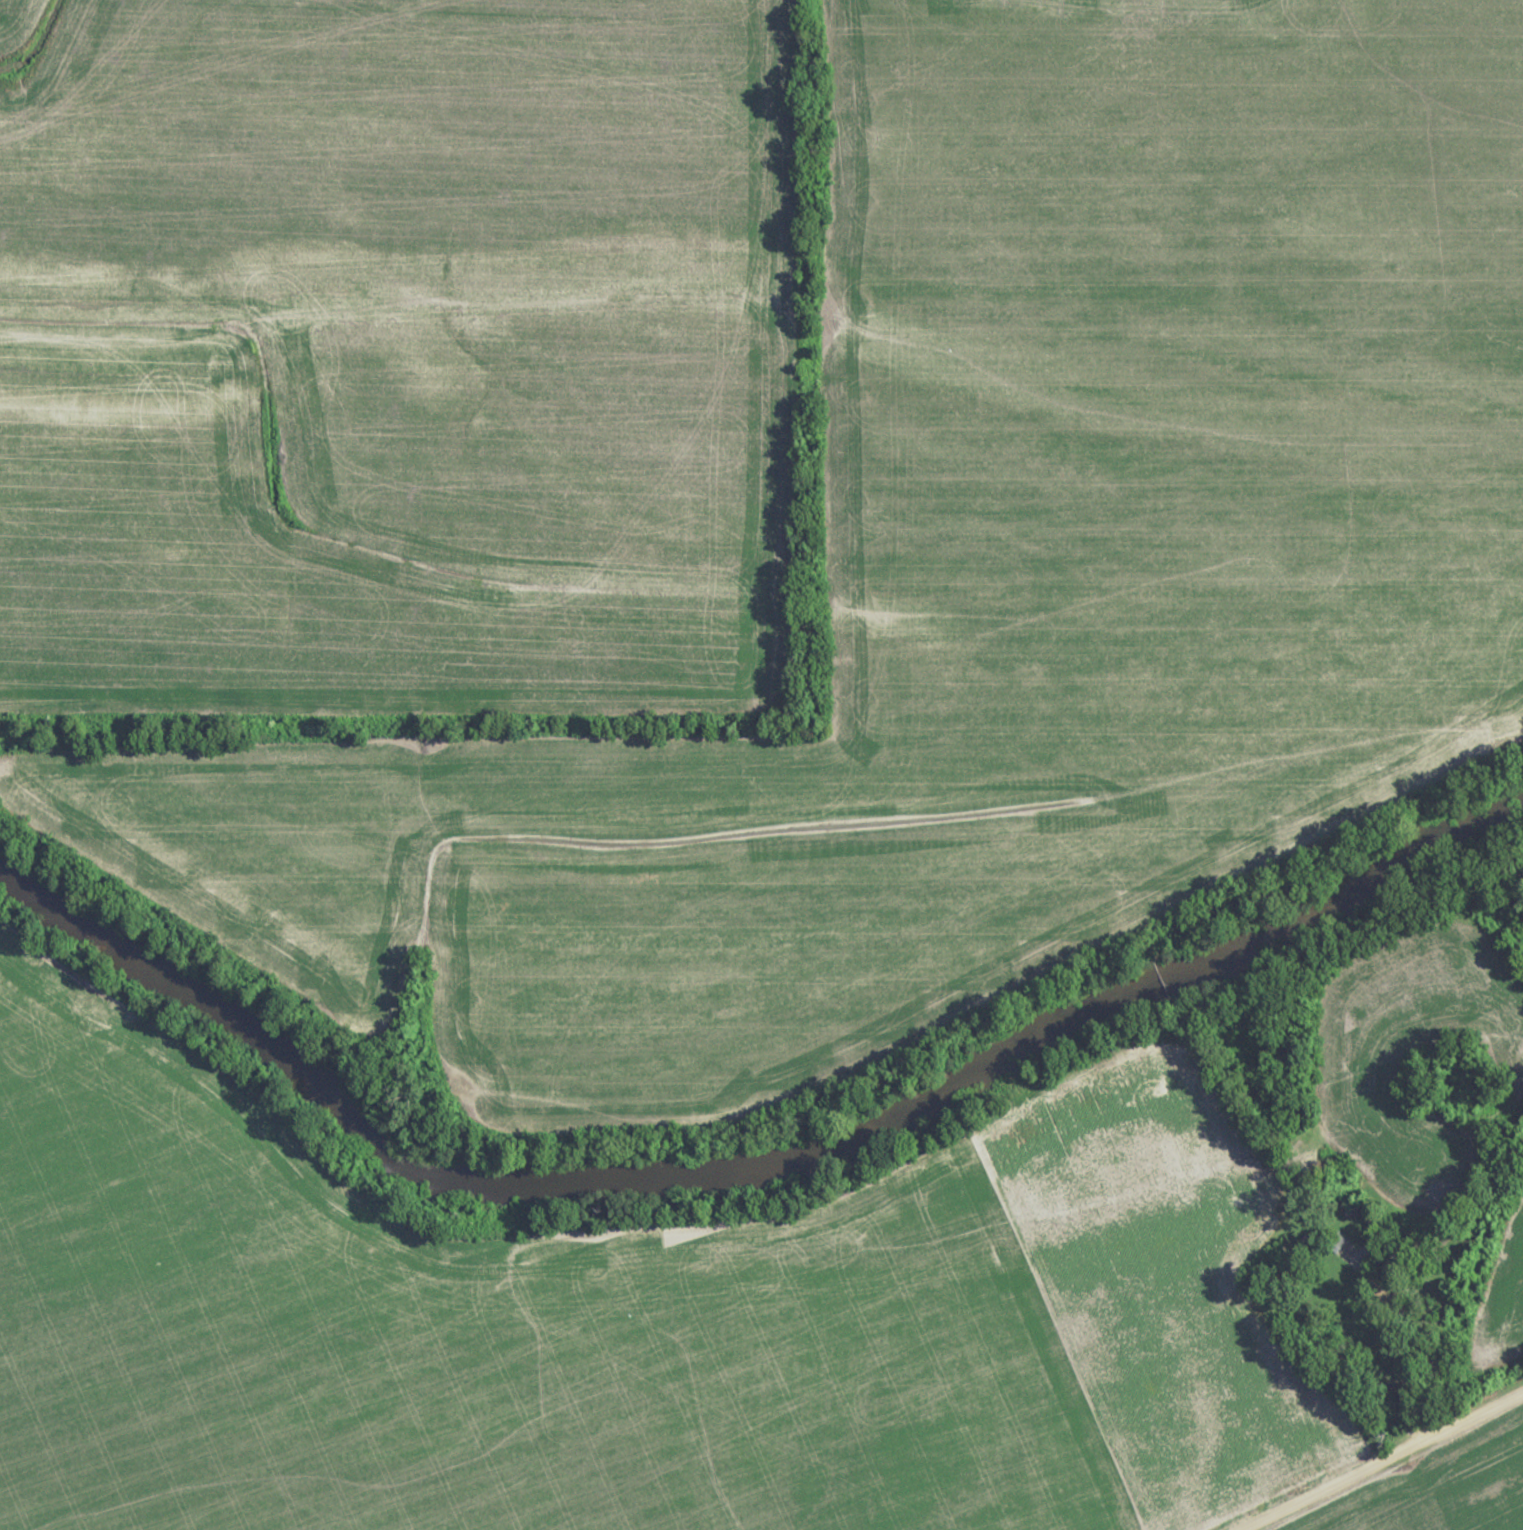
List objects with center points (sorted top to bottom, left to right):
road: (767, 703)
road: (1179, 1450)
road: (1378, 1457)

